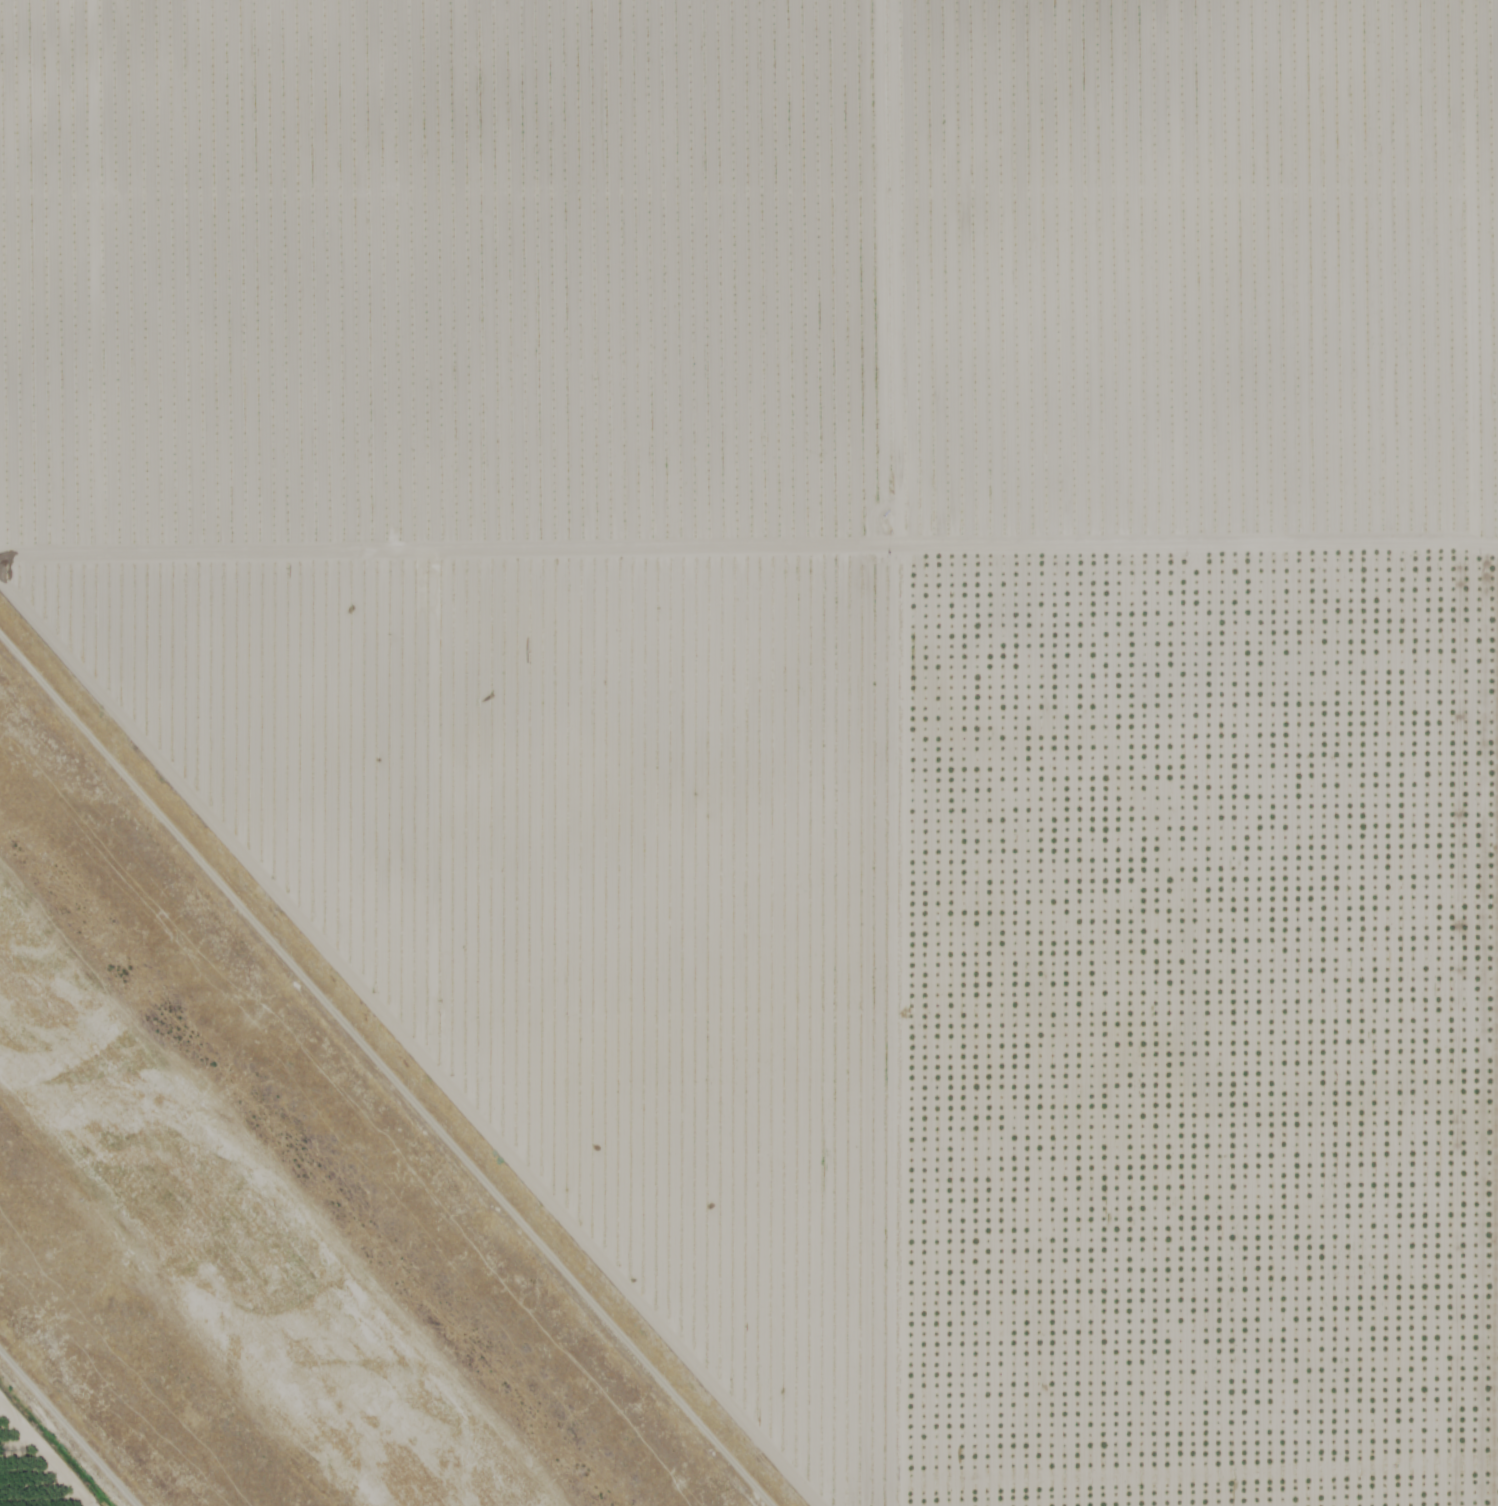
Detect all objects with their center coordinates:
crop: (838, 669)
crop: (39, 1461)

